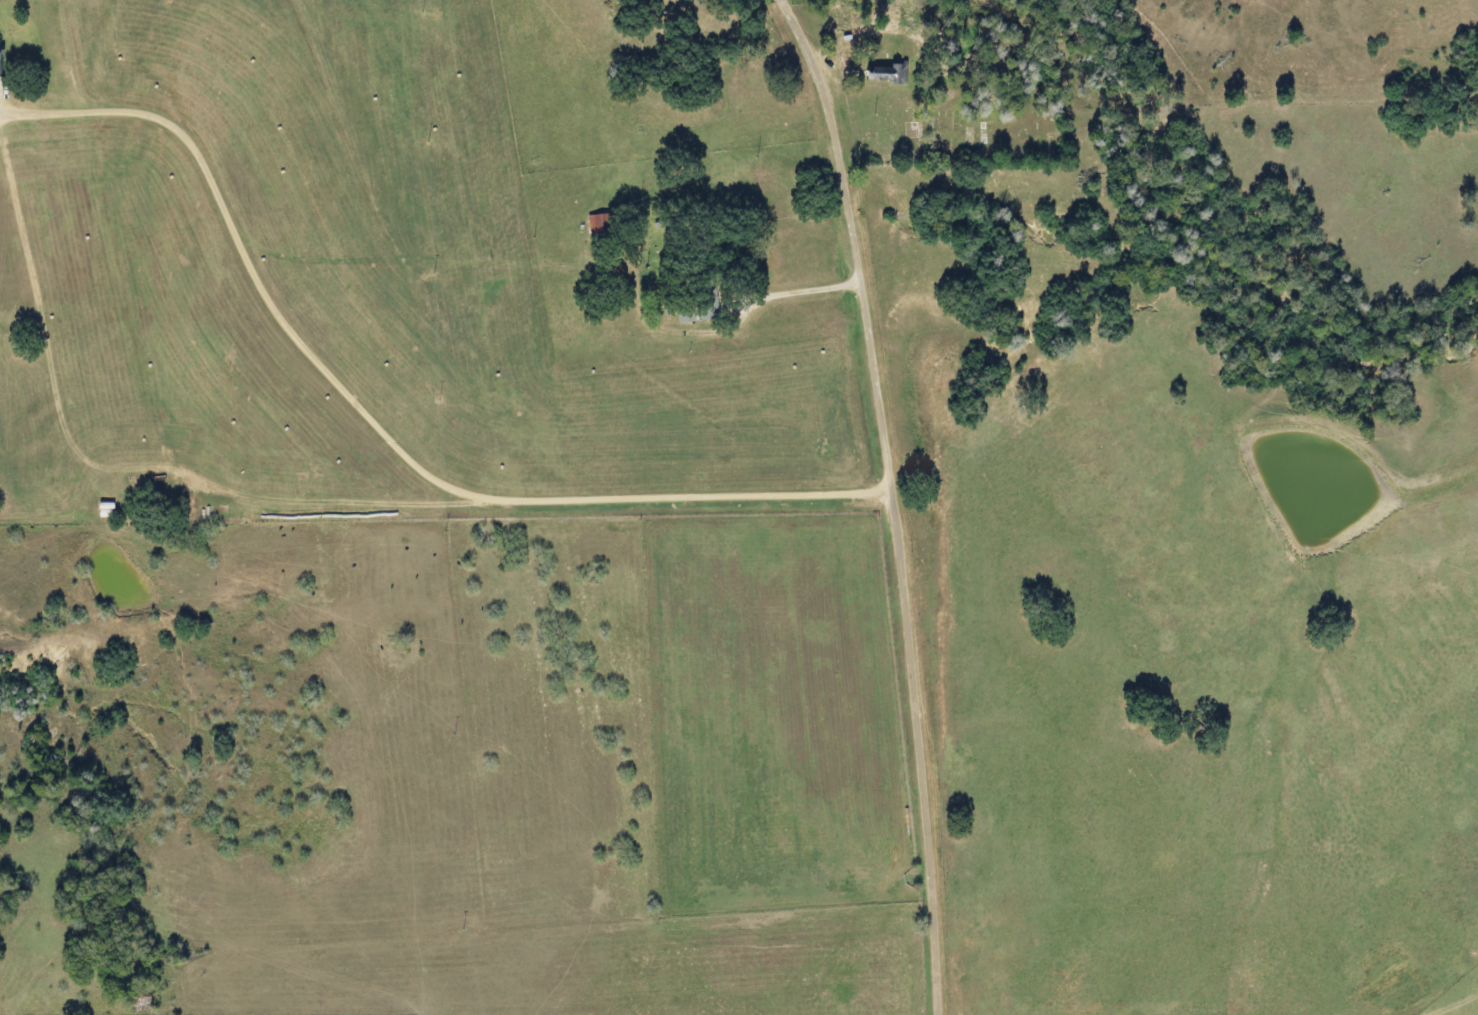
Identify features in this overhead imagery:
building: (879, 74)
building: (592, 224)
road: (796, 289)
building: (679, 319)
road: (893, 501)
road: (502, 921)
road: (1464, 983)

